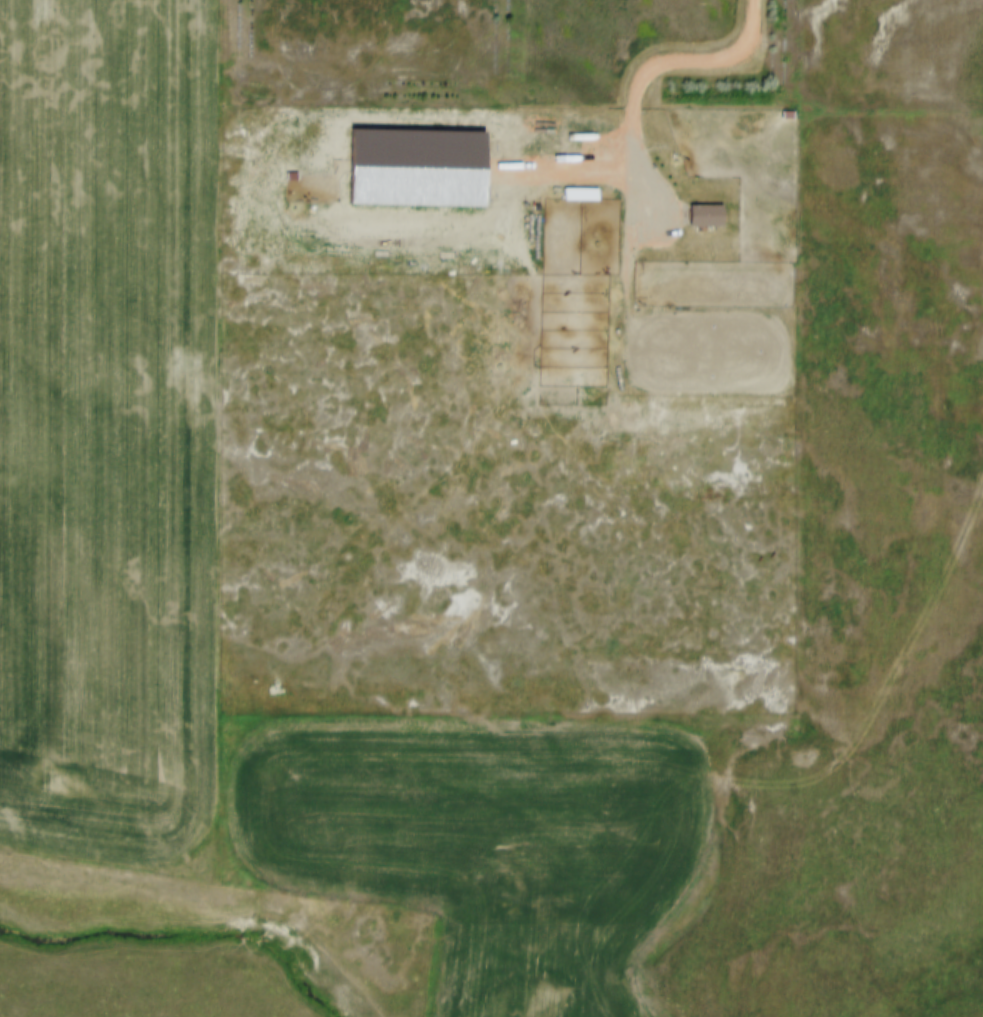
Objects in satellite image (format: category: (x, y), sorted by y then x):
road: (645, 65)

